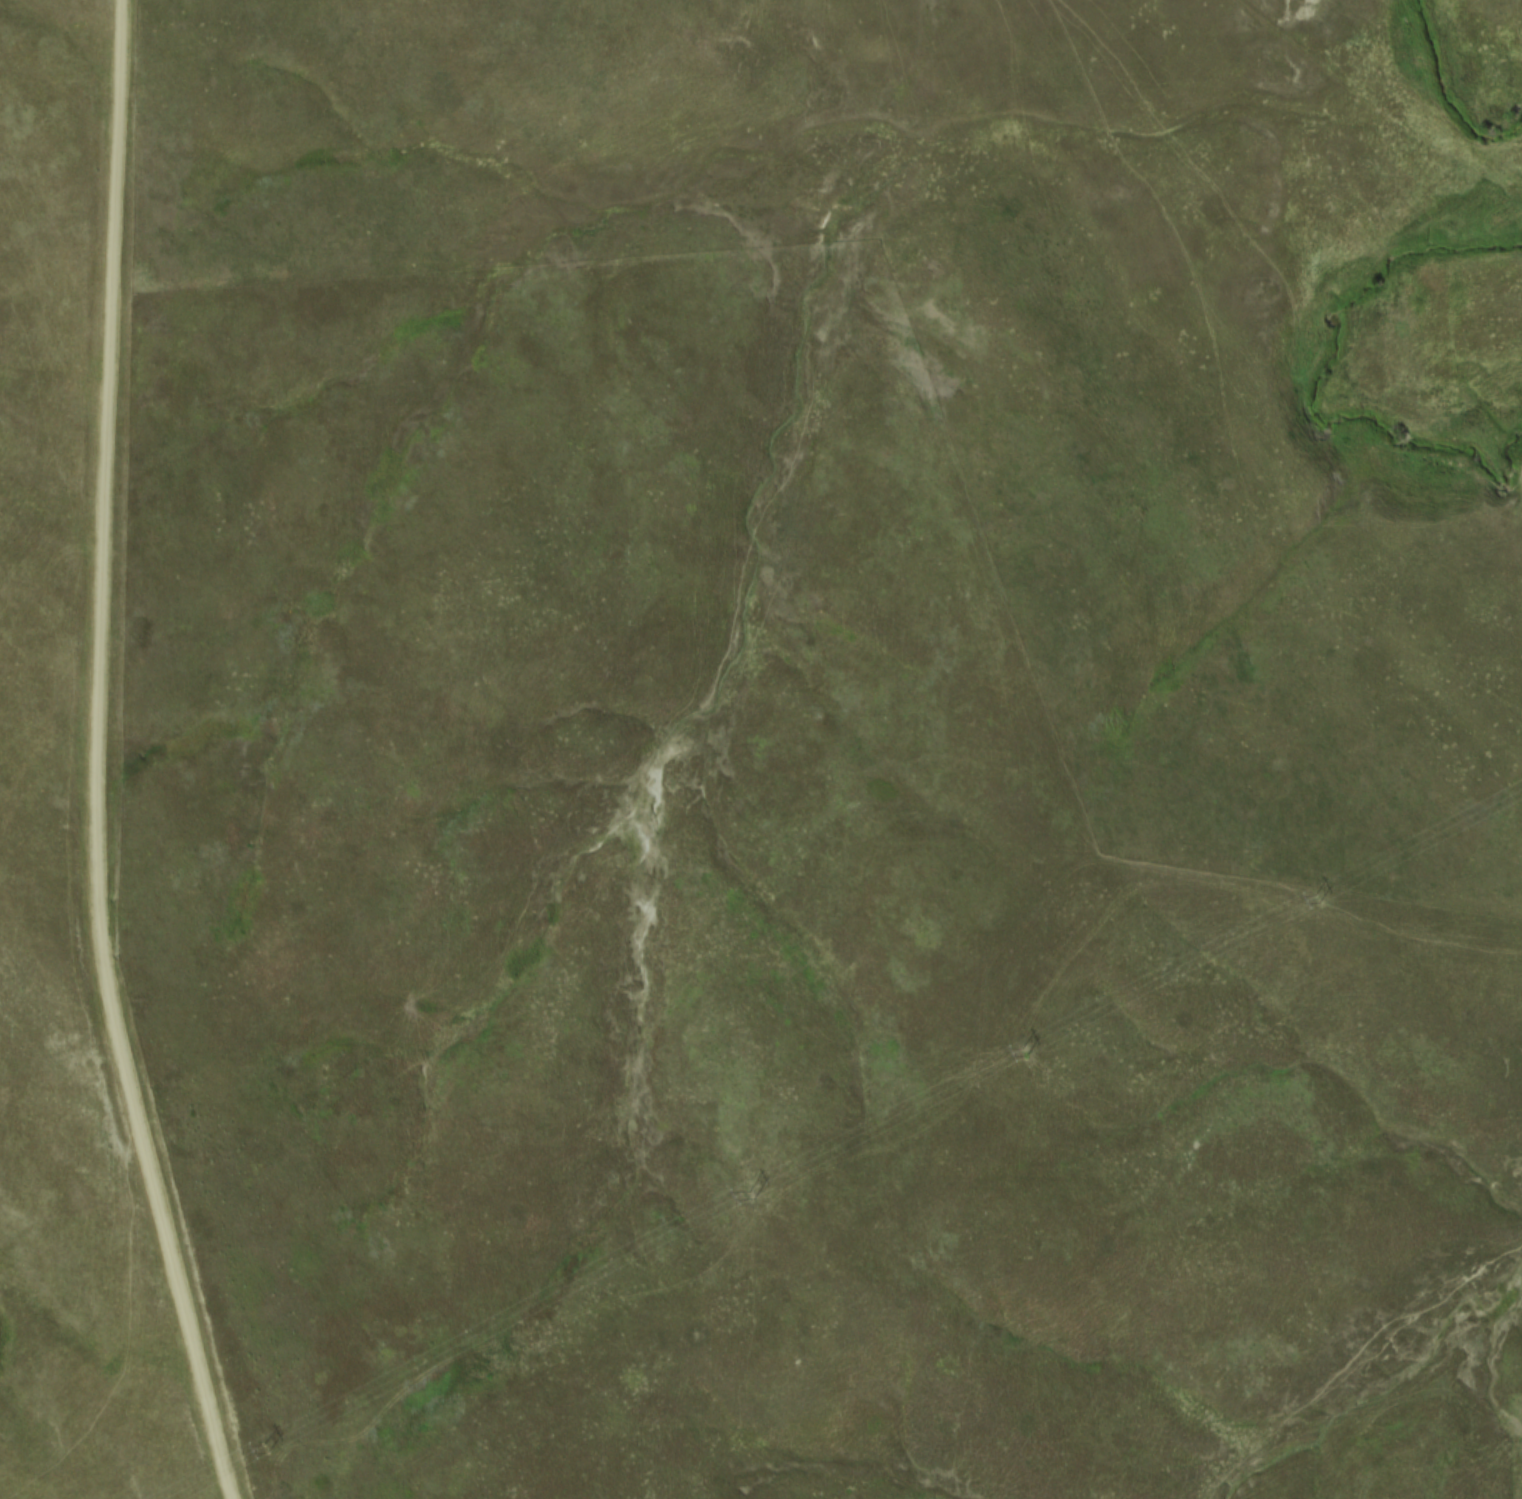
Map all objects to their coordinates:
road: (96, 756)
power tower: (1312, 897)
power tower: (1019, 1051)
power tower: (745, 1195)
power tower: (264, 1446)

